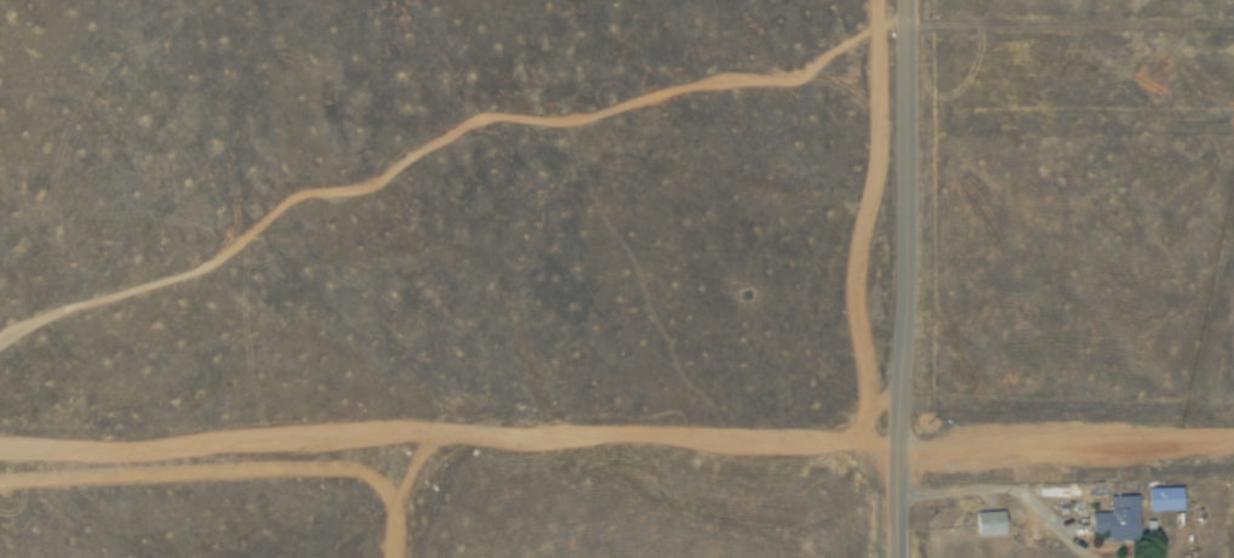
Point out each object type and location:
road: (901, 125)
road: (899, 403)
road: (1067, 445)
road: (1006, 489)
building: (1162, 500)
building: (1118, 520)
building: (988, 524)
road: (1160, 557)

